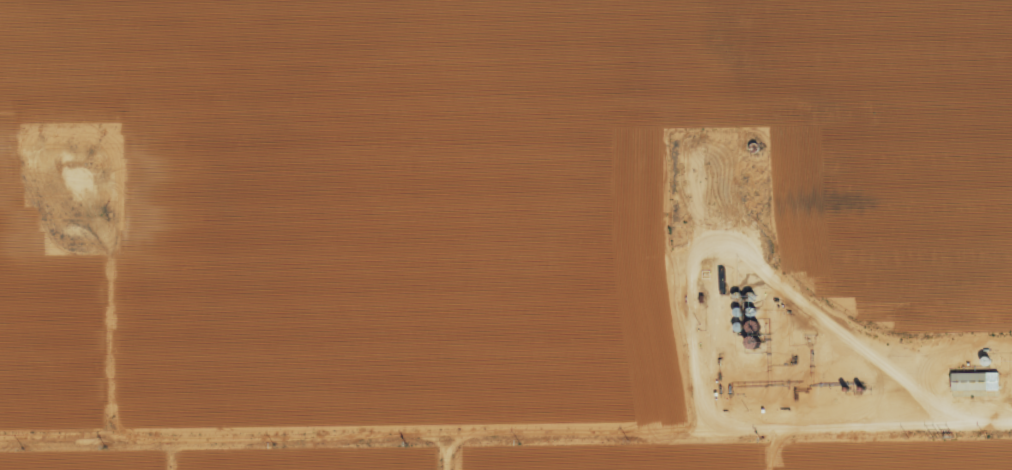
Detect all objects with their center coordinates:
road: (506, 415)

